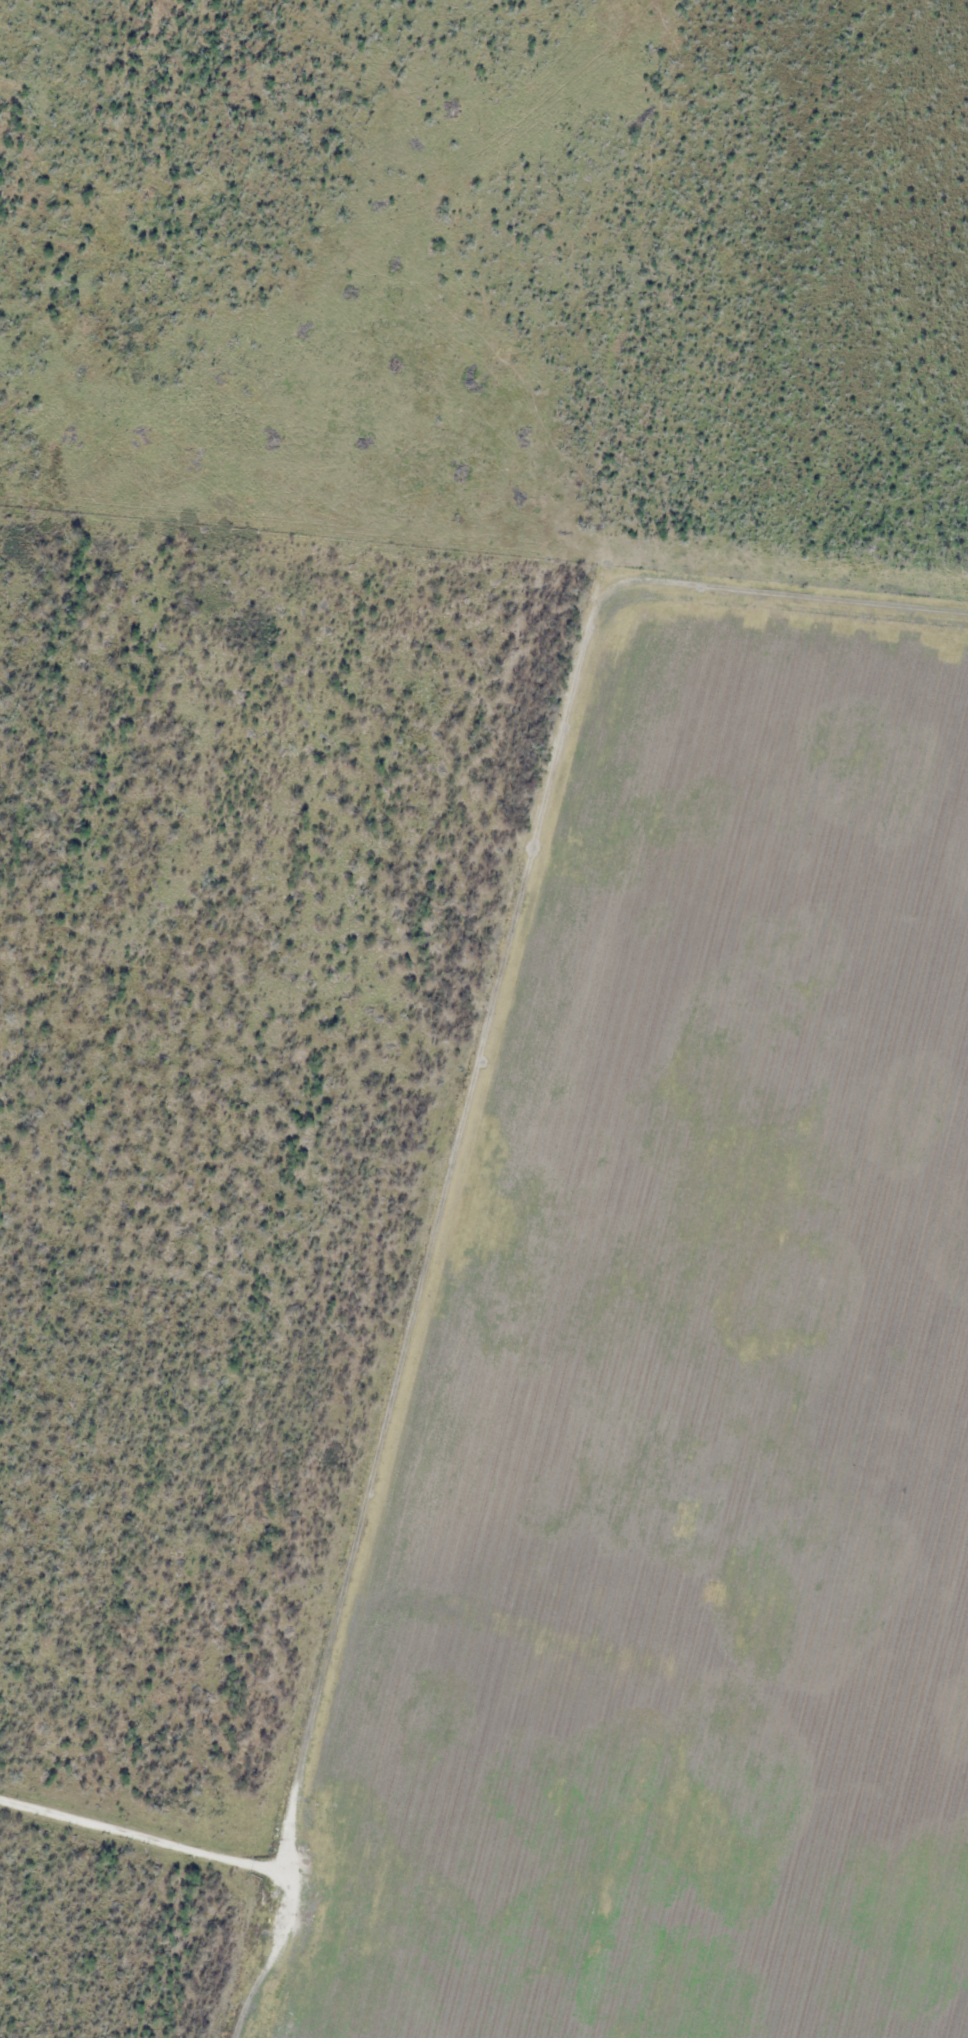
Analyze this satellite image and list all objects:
road: (87, 1823)

